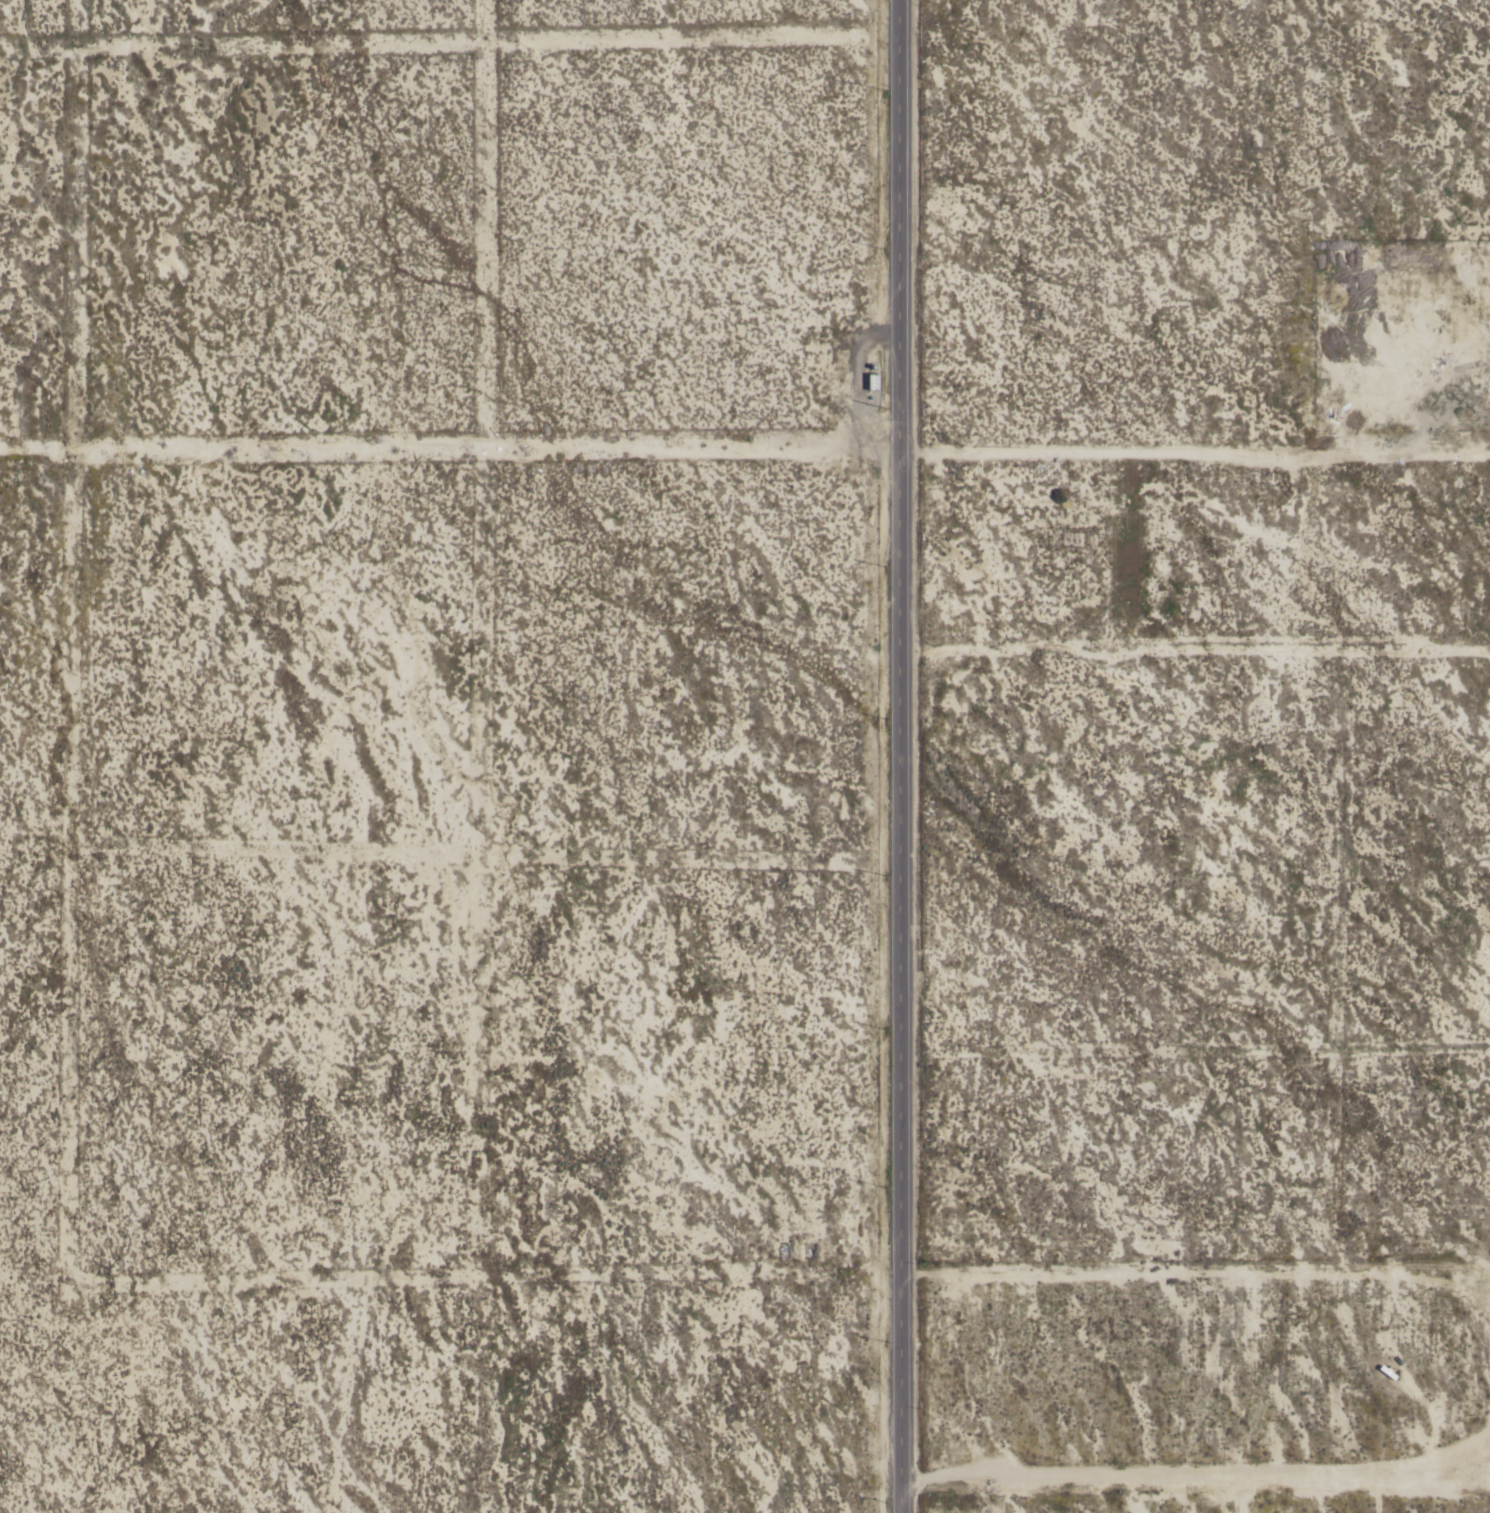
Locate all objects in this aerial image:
road: (901, 756)
road: (1198, 1272)
road: (1200, 1478)

